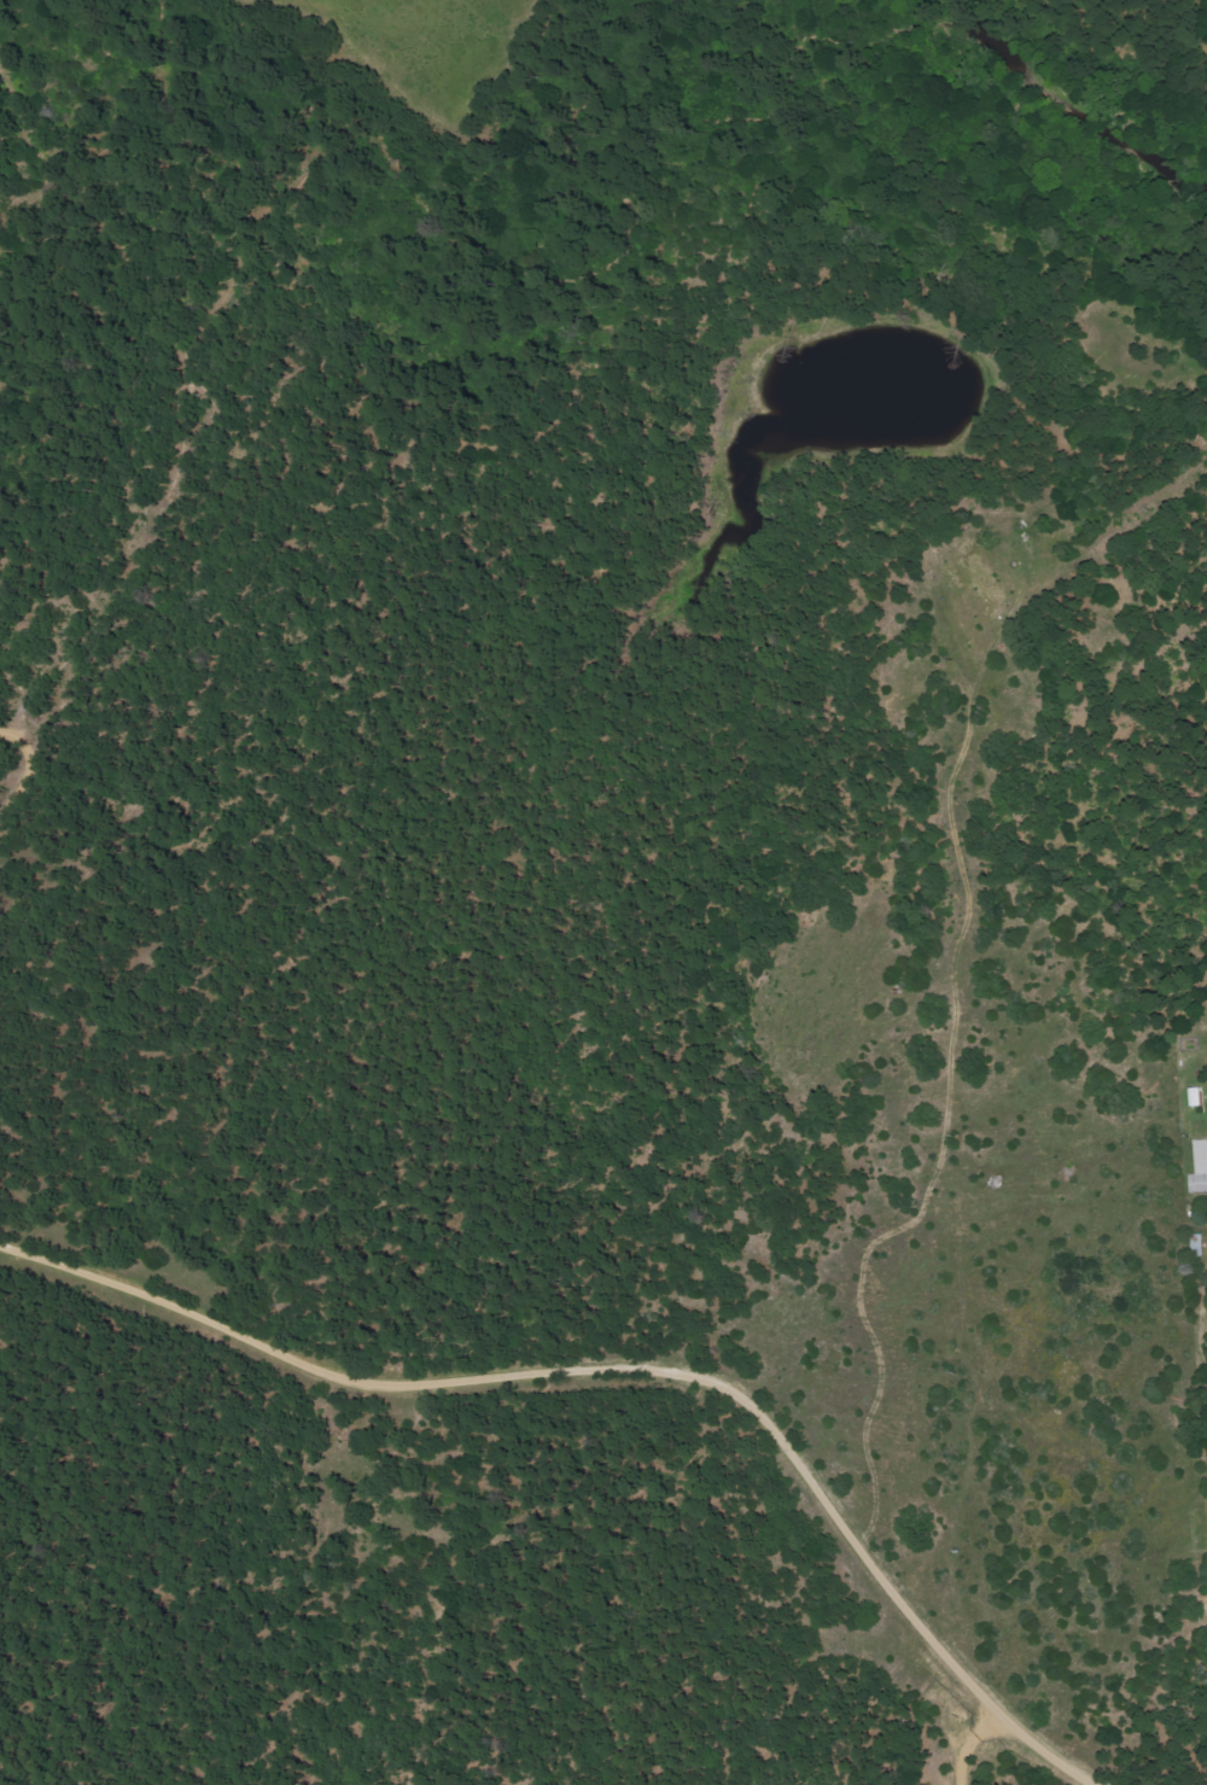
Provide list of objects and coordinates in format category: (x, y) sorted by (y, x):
building: (1201, 1169)
road: (632, 1365)

